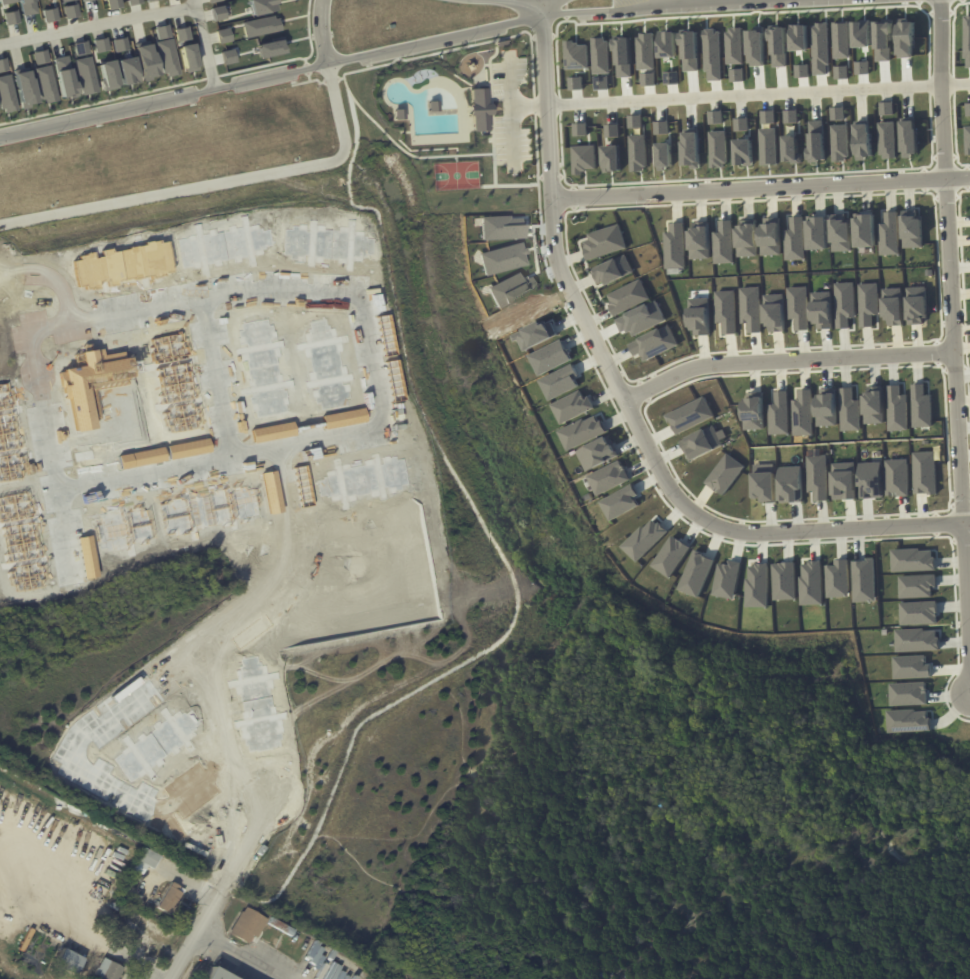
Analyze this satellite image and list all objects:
building: (65, 0)
building: (148, 0)
building: (212, 0)
building: (7, 1)
building: (133, 1)
building: (113, 3)
building: (262, 5)
building: (29, 6)
building: (70, 10)
building: (217, 12)
building: (49, 14)
building: (10, 17)
road: (96, 24)
building: (259, 25)
building: (163, 29)
building: (182, 32)
road: (319, 32)
building: (865, 34)
building: (223, 35)
building: (909, 40)
building: (842, 41)
building: (885, 42)
building: (120, 43)
building: (100, 44)
road: (202, 44)
building: (80, 48)
building: (268, 48)
building: (600, 55)
building: (40, 56)
building: (227, 56)
building: (188, 57)
building: (576, 57)
building: (145, 61)
building: (3, 64)
road: (324, 65)
building: (864, 68)
building: (126, 70)
building: (801, 70)
building: (843, 73)
building: (86, 74)
building: (107, 74)
building: (737, 75)
building: (63, 76)
building: (45, 83)
building: (576, 83)
building: (601, 83)
building: (24, 88)
building: (6, 94)
road: (757, 94)
road: (527, 106)
road: (510, 107)
building: (886, 108)
building: (478, 109)
building: (968, 109)
building: (396, 112)
building: (836, 113)
building: (715, 116)
building: (790, 116)
building: (767, 117)
park: (456, 121)
building: (635, 121)
building: (741, 124)
building: (661, 127)
building: (579, 129)
building: (612, 131)
building: (909, 138)
building: (967, 138)
building: (817, 140)
building: (887, 140)
building: (863, 141)
building: (839, 143)
building: (768, 146)
building: (717, 149)
building: (791, 149)
building: (691, 150)
building: (743, 152)
building: (637, 153)
building: (664, 156)
building: (584, 158)
building: (612, 158)
park: (455, 174)
road: (215, 182)
road: (760, 187)
road: (588, 204)
building: (912, 228)
building: (864, 231)
building: (841, 232)
building: (817, 233)
building: (889, 234)
building: (770, 236)
building: (747, 238)
building: (795, 239)
building: (700, 240)
building: (603, 242)
building: (724, 243)
building: (675, 246)
road: (957, 260)
building: (612, 271)
road: (56, 281)
building: (628, 297)
building: (868, 303)
building: (844, 304)
building: (916, 305)
building: (798, 307)
building: (892, 307)
building: (750, 308)
building: (725, 310)
building: (822, 310)
building: (774, 313)
building: (699, 316)
building: (384, 334)
building: (655, 343)
road: (918, 343)
road: (32, 344)
building: (550, 357)
road: (789, 361)
road: (217, 376)
building: (560, 382)
road: (625, 399)
building: (874, 405)
building: (572, 406)
building: (826, 407)
building: (921, 407)
building: (897, 409)
building: (849, 410)
building: (754, 411)
building: (803, 413)
building: (689, 414)
building: (780, 414)
building: (342, 417)
road: (369, 430)
building: (273, 431)
building: (581, 431)
building: (703, 442)
building: (188, 446)
building: (597, 453)
building: (142, 457)
road: (952, 471)
building: (924, 472)
building: (725, 474)
building: (817, 476)
building: (609, 477)
building: (896, 477)
building: (870, 480)
building: (843, 481)
building: (302, 483)
building: (790, 484)
building: (764, 487)
building: (272, 490)
building: (587, 496)
building: (620, 502)
road: (491, 530)
road: (66, 533)
building: (644, 539)
building: (87, 555)
building: (670, 556)
building: (912, 560)
building: (696, 574)
building: (726, 578)
building: (837, 578)
building: (783, 579)
building: (863, 579)
building: (810, 582)
building: (757, 585)
building: (916, 586)
building: (918, 613)
road: (246, 617)
building: (916, 640)
building: (911, 667)
building: (908, 693)
building: (908, 721)
road: (83, 761)
road: (254, 787)
building: (147, 858)
road: (178, 879)
road: (226, 888)
building: (168, 898)
road: (60, 918)
building: (246, 925)
road: (247, 953)
building: (67, 961)
road: (141, 961)
building: (105, 970)
road: (142, 972)
building: (211, 973)

